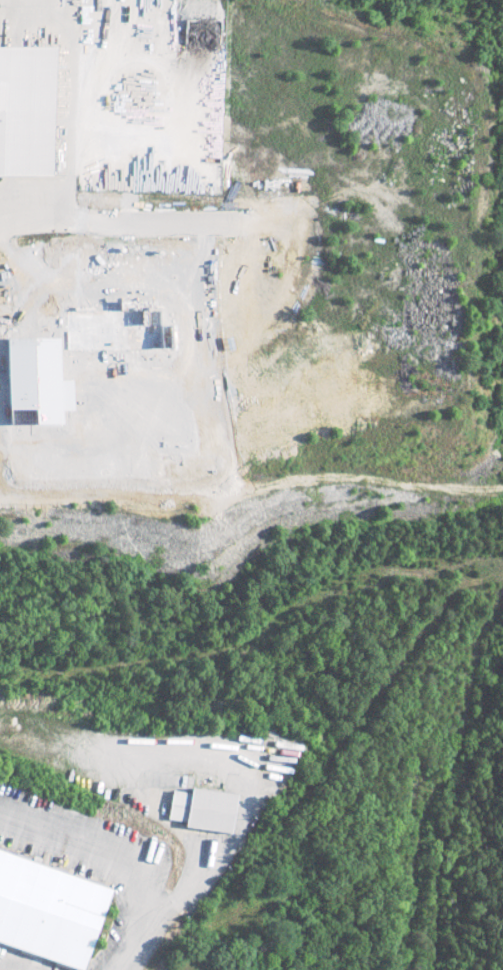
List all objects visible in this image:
building: (26, 111)
road: (28, 223)
building: (200, 810)
building: (48, 911)
road: (142, 939)

